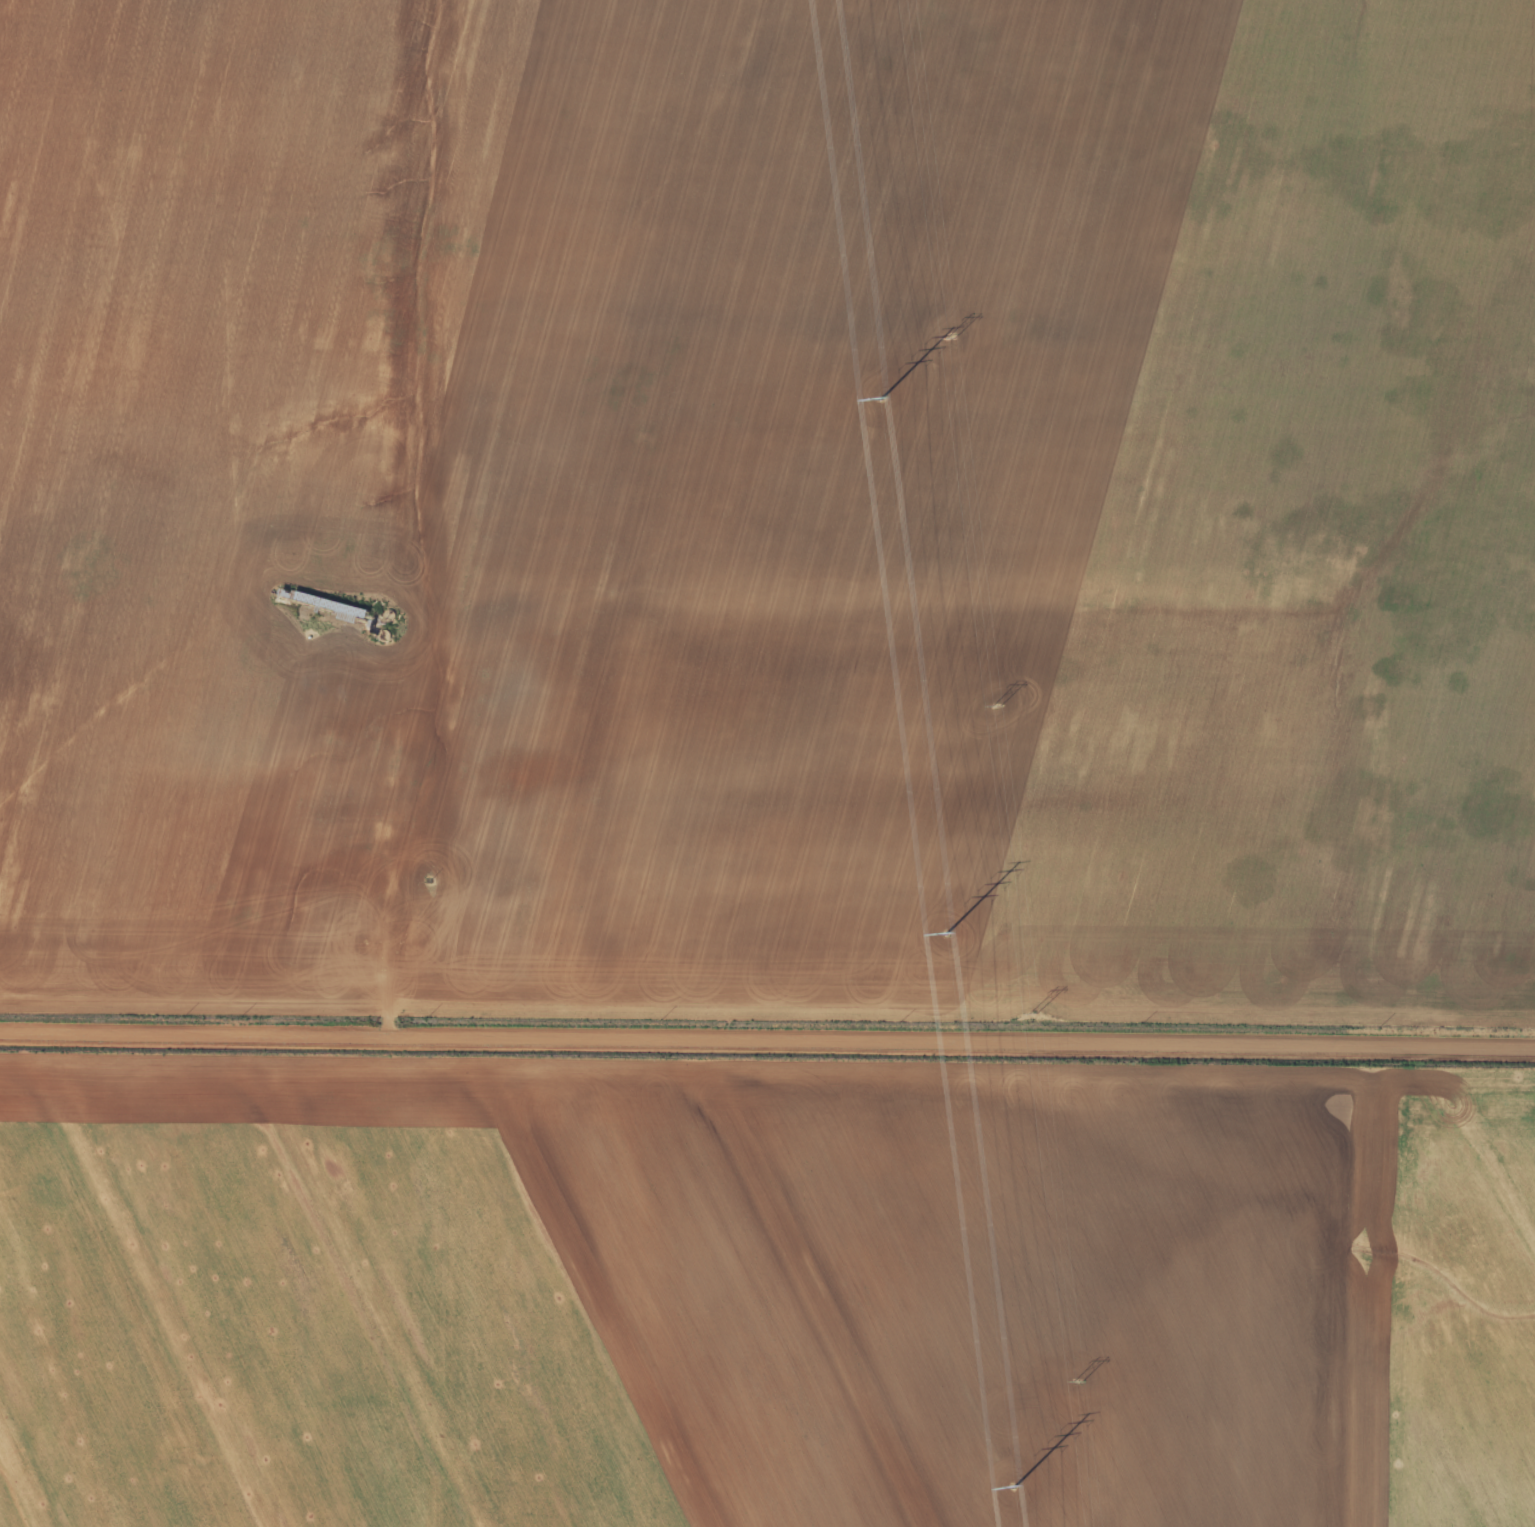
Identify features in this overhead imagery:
power tower: (950, 337)
power tower: (881, 398)
power tower: (995, 705)
power tower: (946, 934)
power tower: (1034, 1014)
road: (767, 1036)
power tower: (1078, 1380)
power tower: (1014, 1487)

